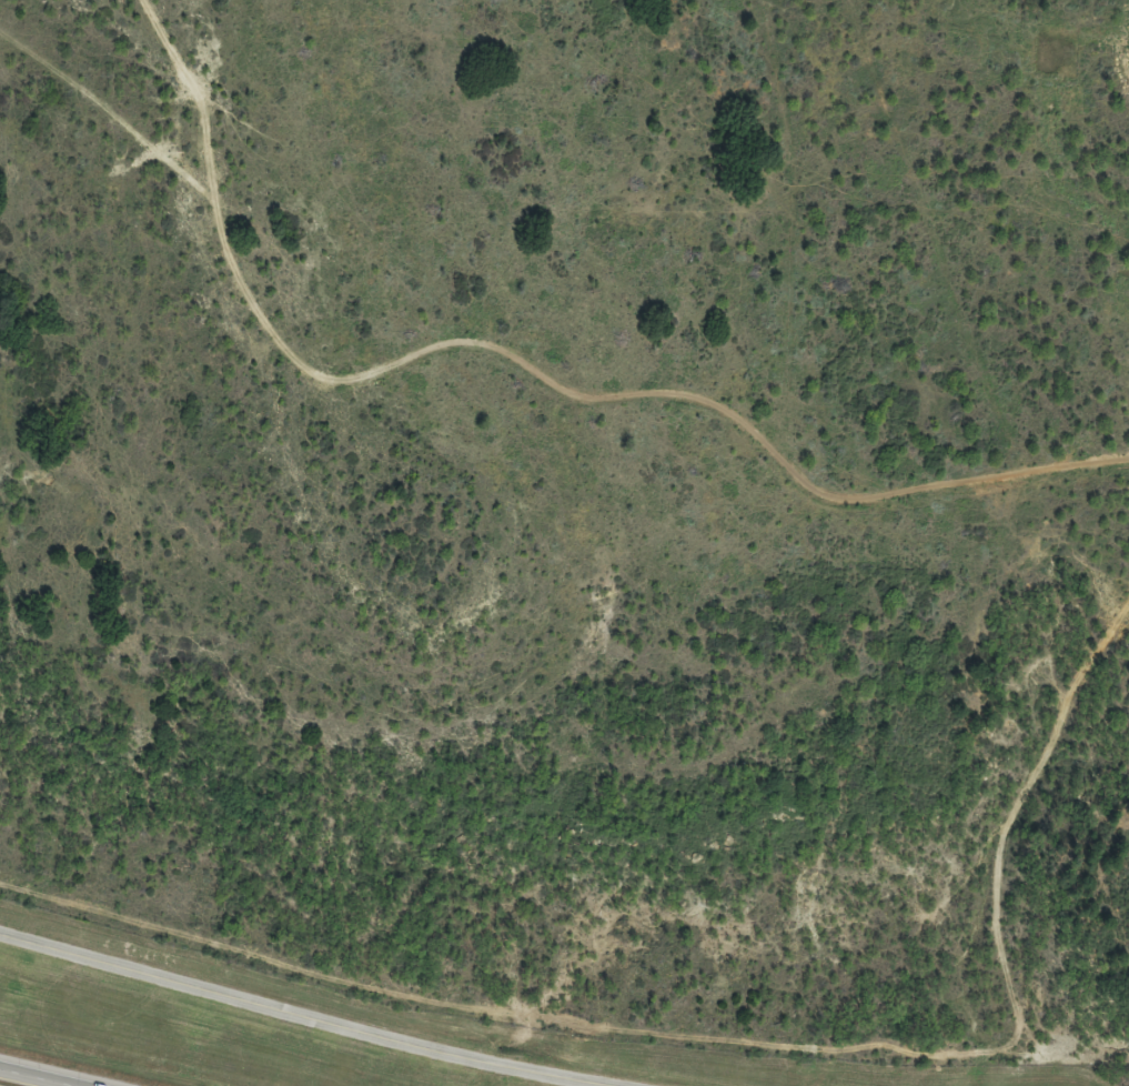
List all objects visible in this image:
road: (189, 987)
road: (481, 1060)
road: (44, 1075)

